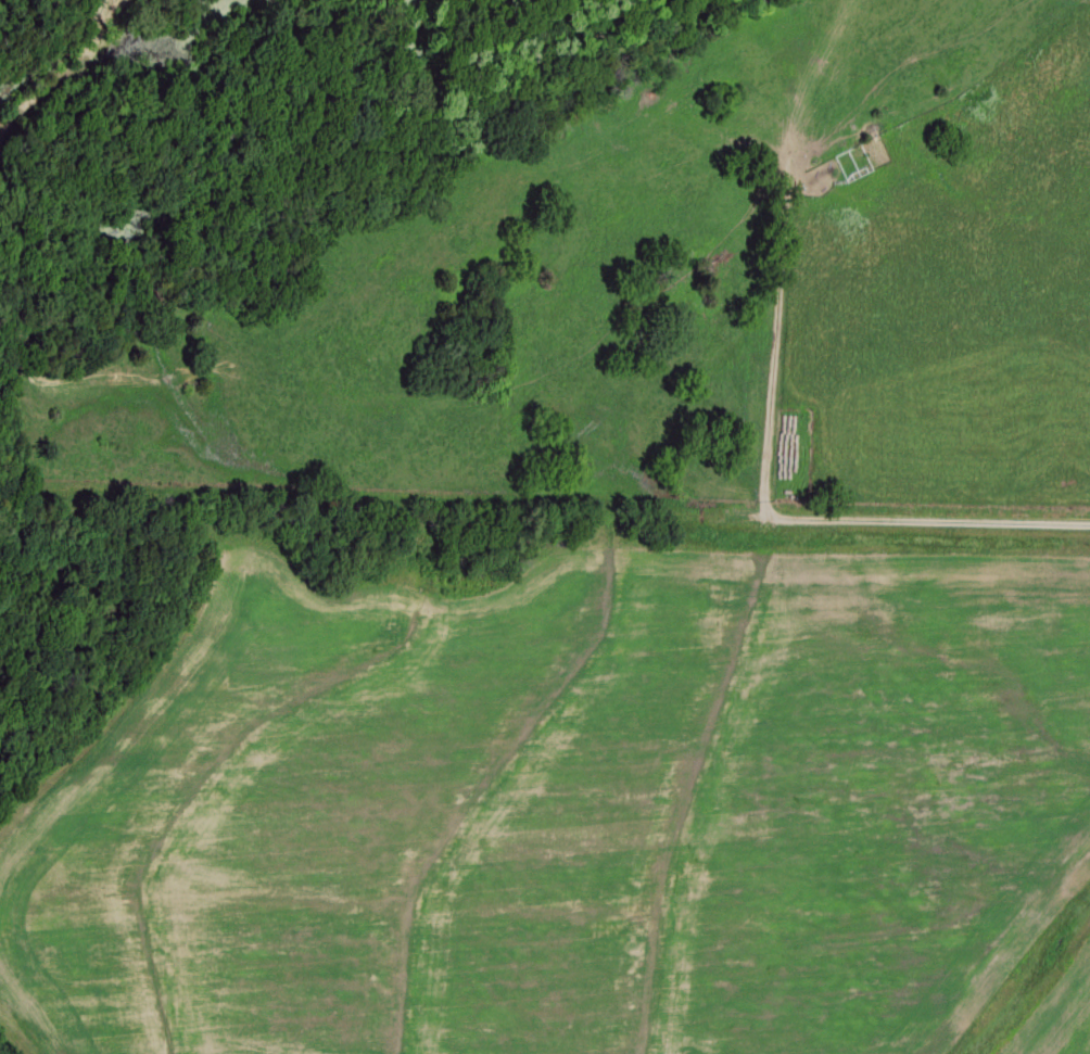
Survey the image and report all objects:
road: (936, 520)

